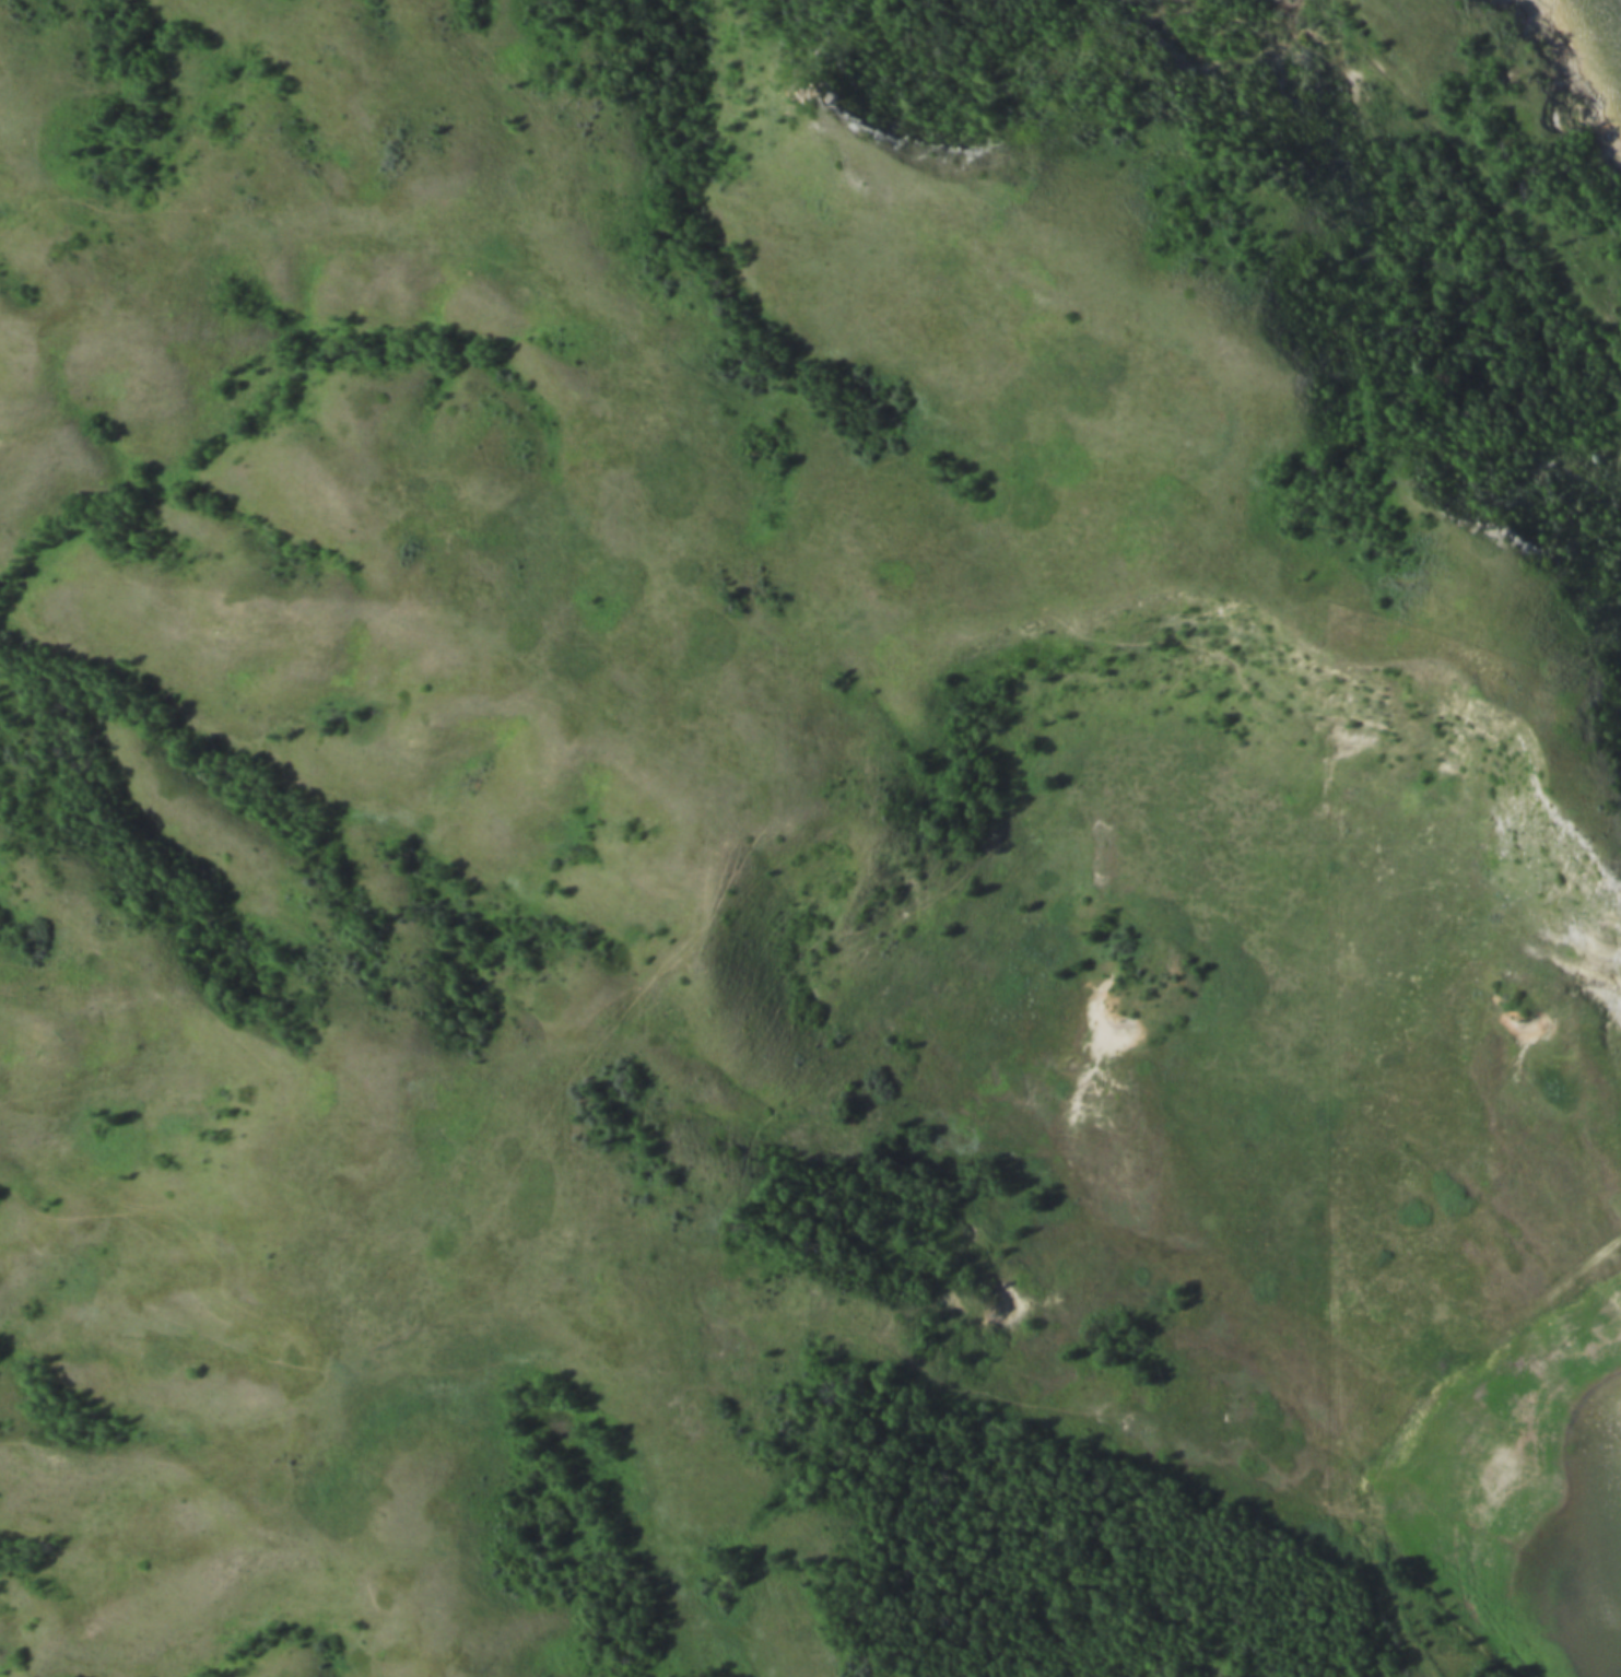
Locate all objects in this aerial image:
road: (1619, 3)
road: (1470, 169)
road: (1417, 1426)

